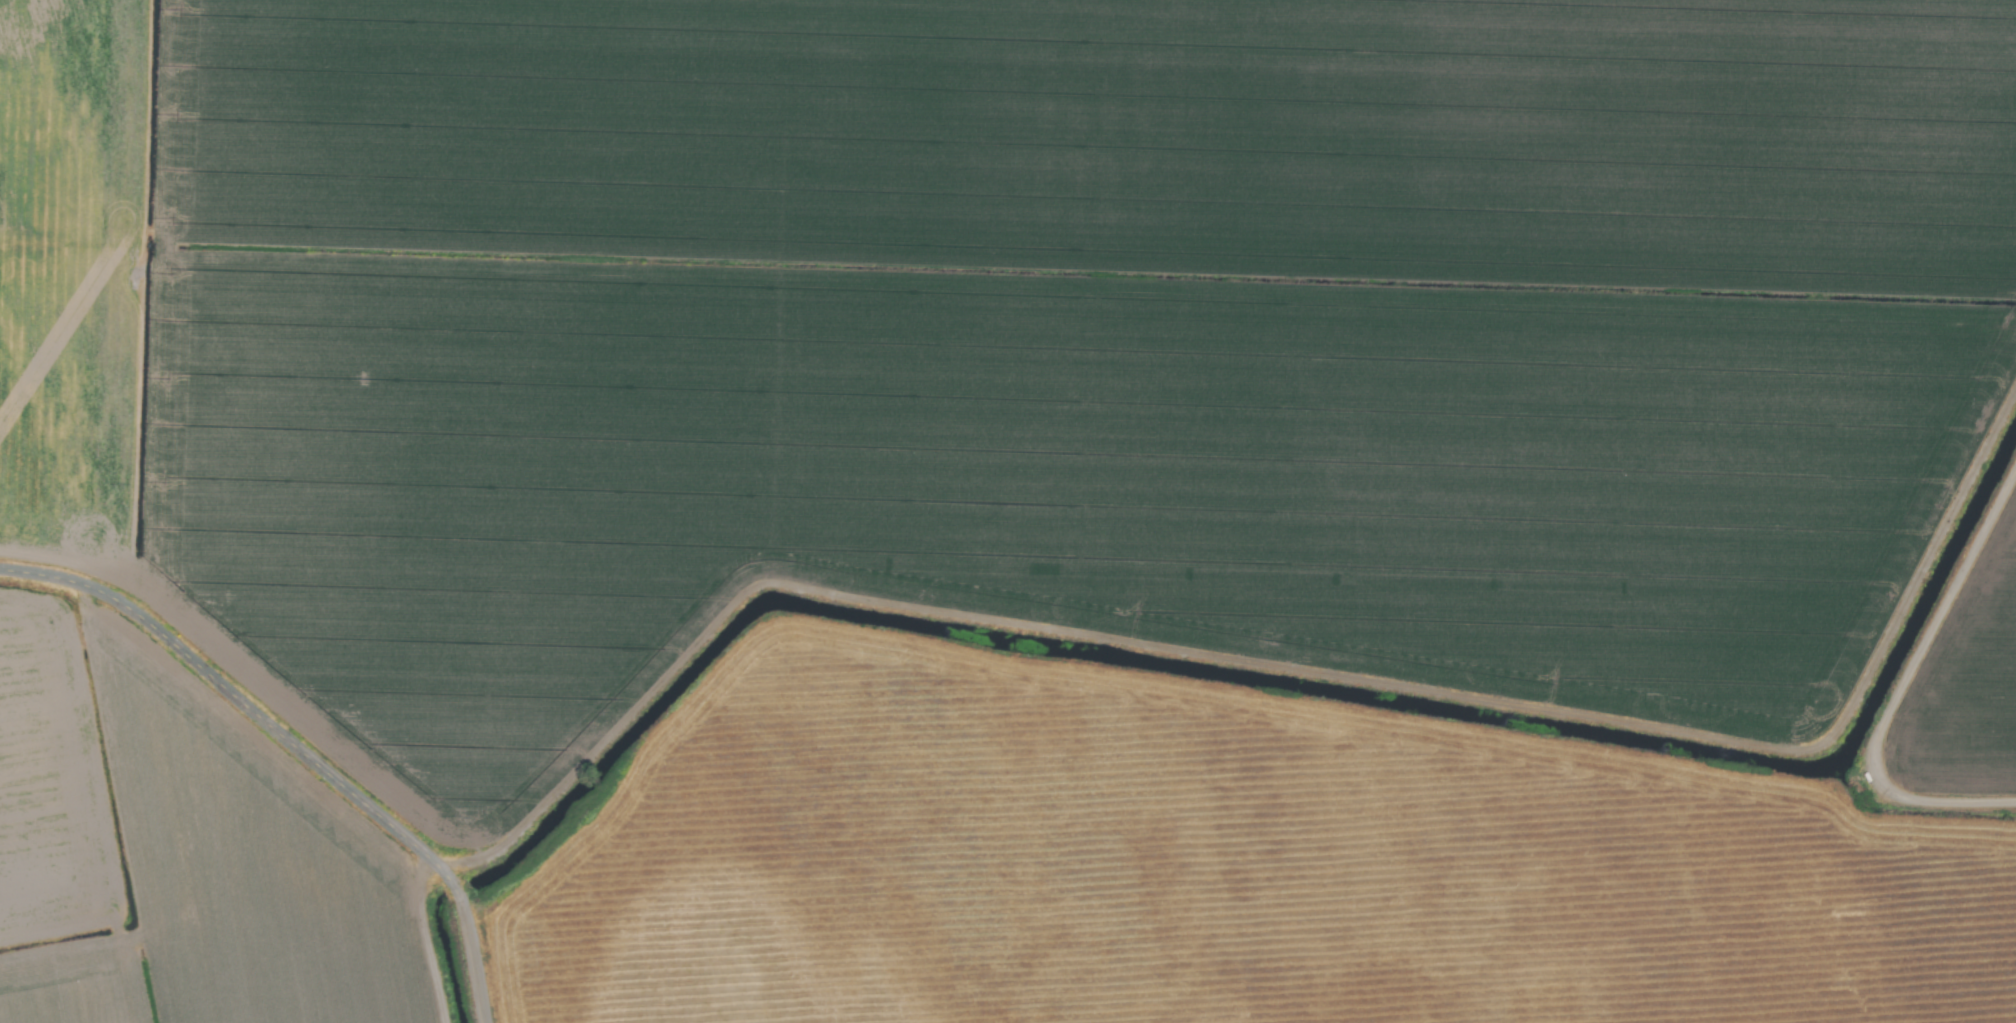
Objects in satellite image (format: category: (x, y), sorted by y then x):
crop: (1008, 511)
road: (236, 697)
road: (473, 947)

